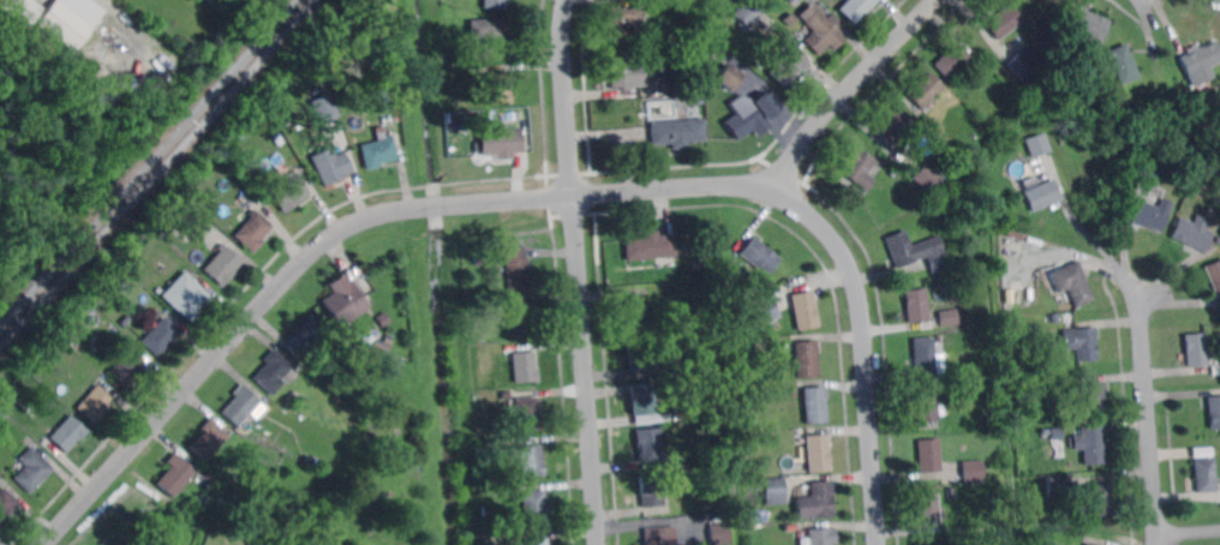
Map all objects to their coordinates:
building: (790, 0)
building: (495, 4)
building: (856, 8)
building: (20, 10)
building: (749, 12)
building: (68, 20)
building: (1006, 22)
building: (623, 23)
building: (821, 28)
building: (1093, 29)
building: (488, 34)
building: (98, 56)
building: (953, 59)
building: (1206, 60)
building: (1124, 64)
building: (789, 65)
building: (1024, 65)
building: (626, 71)
building: (730, 73)
building: (687, 86)
building: (498, 88)
road: (849, 89)
building: (1048, 89)
building: (927, 90)
building: (382, 91)
building: (951, 96)
building: (1, 97)
building: (322, 107)
building: (480, 114)
building: (750, 115)
building: (893, 124)
building: (678, 132)
building: (501, 142)
building: (1039, 143)
building: (378, 150)
building: (330, 162)
railway: (152, 168)
building: (861, 169)
building: (893, 172)
building: (1153, 174)
building: (928, 178)
building: (289, 192)
building: (189, 193)
building: (1041, 193)
building: (1153, 214)
building: (191, 220)
building: (253, 229)
road: (345, 229)
building: (1195, 232)
road: (1093, 236)
building: (1001, 241)
building: (651, 246)
building: (904, 248)
building: (760, 256)
building: (939, 259)
building: (480, 260)
building: (223, 264)
building: (515, 268)
road: (581, 271)
building: (1215, 274)
building: (1075, 282)
building: (185, 295)
building: (342, 299)
building: (919, 305)
building: (805, 310)
building: (766, 312)
building: (636, 313)
building: (951, 317)
building: (1055, 318)
building: (521, 319)
building: (382, 321)
building: (67, 329)
building: (161, 335)
building: (305, 335)
building: (940, 337)
building: (1081, 342)
building: (1200, 349)
road: (865, 351)
building: (639, 352)
building: (926, 354)
building: (702, 357)
building: (807, 359)
building: (525, 367)
building: (126, 369)
building: (274, 371)
building: (8, 393)
building: (506, 394)
building: (295, 397)
building: (641, 399)
building: (1094, 399)
building: (993, 400)
building: (96, 403)
building: (240, 405)
building: (815, 405)
building: (928, 405)
road: (1148, 407)
building: (1215, 411)
building: (2, 413)
building: (527, 414)
building: (657, 420)
building: (1058, 432)
building: (68, 433)
building: (209, 438)
building: (651, 444)
building: (1093, 444)
building: (488, 445)
building: (819, 453)
building: (1204, 453)
building: (932, 455)
building: (530, 459)
building: (702, 460)
building: (32, 469)
building: (975, 469)
building: (747, 471)
building: (1209, 474)
building: (173, 475)
building: (1059, 485)
building: (650, 491)
building: (777, 491)
building: (201, 499)
building: (1104, 499)
building: (817, 501)
building: (6, 504)
building: (534, 505)
building: (931, 510)
road: (1189, 531)
building: (720, 532)
building: (660, 535)
building: (818, 535)
building: (516, 537)
building: (150, 541)
building: (536, 543)
building: (967, 543)
building: (253, 544)
building: (1090, 544)

